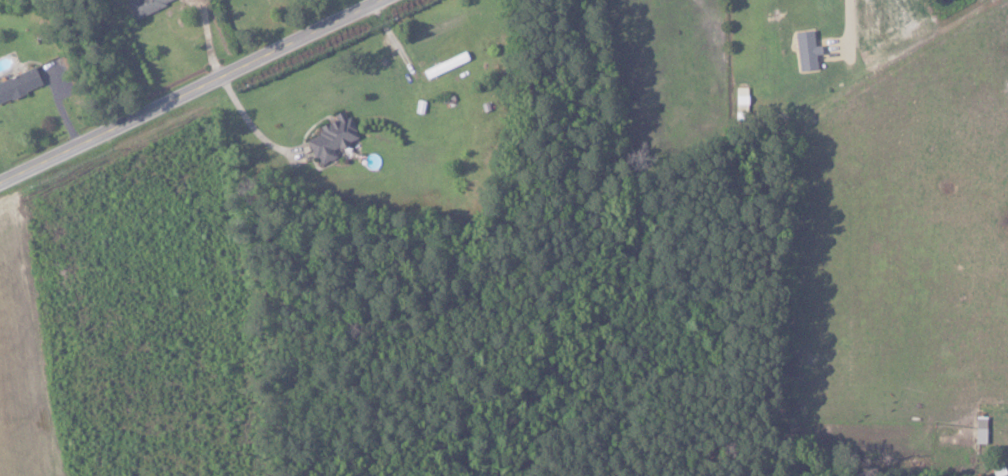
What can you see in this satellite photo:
building: (147, 5)
road: (844, 18)
building: (803, 50)
building: (21, 83)
road: (187, 90)
road: (243, 115)
building: (335, 137)
building: (977, 429)

